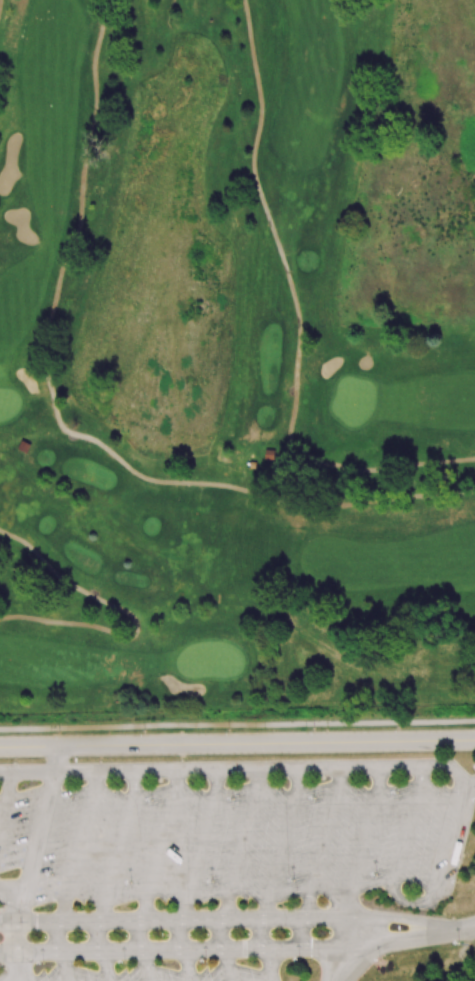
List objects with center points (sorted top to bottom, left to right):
road: (0, 3)
road: (299, 315)
park: (236, 354)
road: (61, 425)
building: (24, 446)
road: (132, 618)
road: (363, 673)
road: (237, 724)
street lamp: (314, 727)
street lamp: (399, 727)
street lamp: (229, 729)
street lamp: (144, 730)
street lamp: (61, 732)
road: (237, 742)
road: (57, 759)
road: (253, 770)
road: (28, 773)
road: (6, 799)
road: (41, 832)
parking lot: (228, 841)
road: (324, 843)
road: (363, 843)
road: (282, 844)
road: (201, 845)
road: (243, 845)
road: (161, 846)
road: (79, 847)
road: (120, 847)
street lamp: (457, 884)
road: (13, 887)
street lamp: (362, 898)
road: (417, 902)
road: (11, 908)
road: (23, 908)
road: (405, 920)
road: (174, 921)
road: (467, 929)
street lamp: (329, 932)
road: (182, 935)
road: (224, 935)
road: (264, 935)
road: (305, 935)
road: (143, 936)
road: (61, 937)
road: (101, 937)
road: (396, 943)
street lamp: (457, 943)
road: (345, 949)
road: (155, 950)
road: (350, 950)
road: (19, 952)
road: (462, 957)
street lamp: (380, 961)
road: (325, 962)
road: (11, 964)
parking lot: (147, 965)
road: (147, 965)
road: (187, 965)
road: (229, 965)
road: (65, 966)
road: (105, 966)
road: (269, 966)
park: (471, 977)

